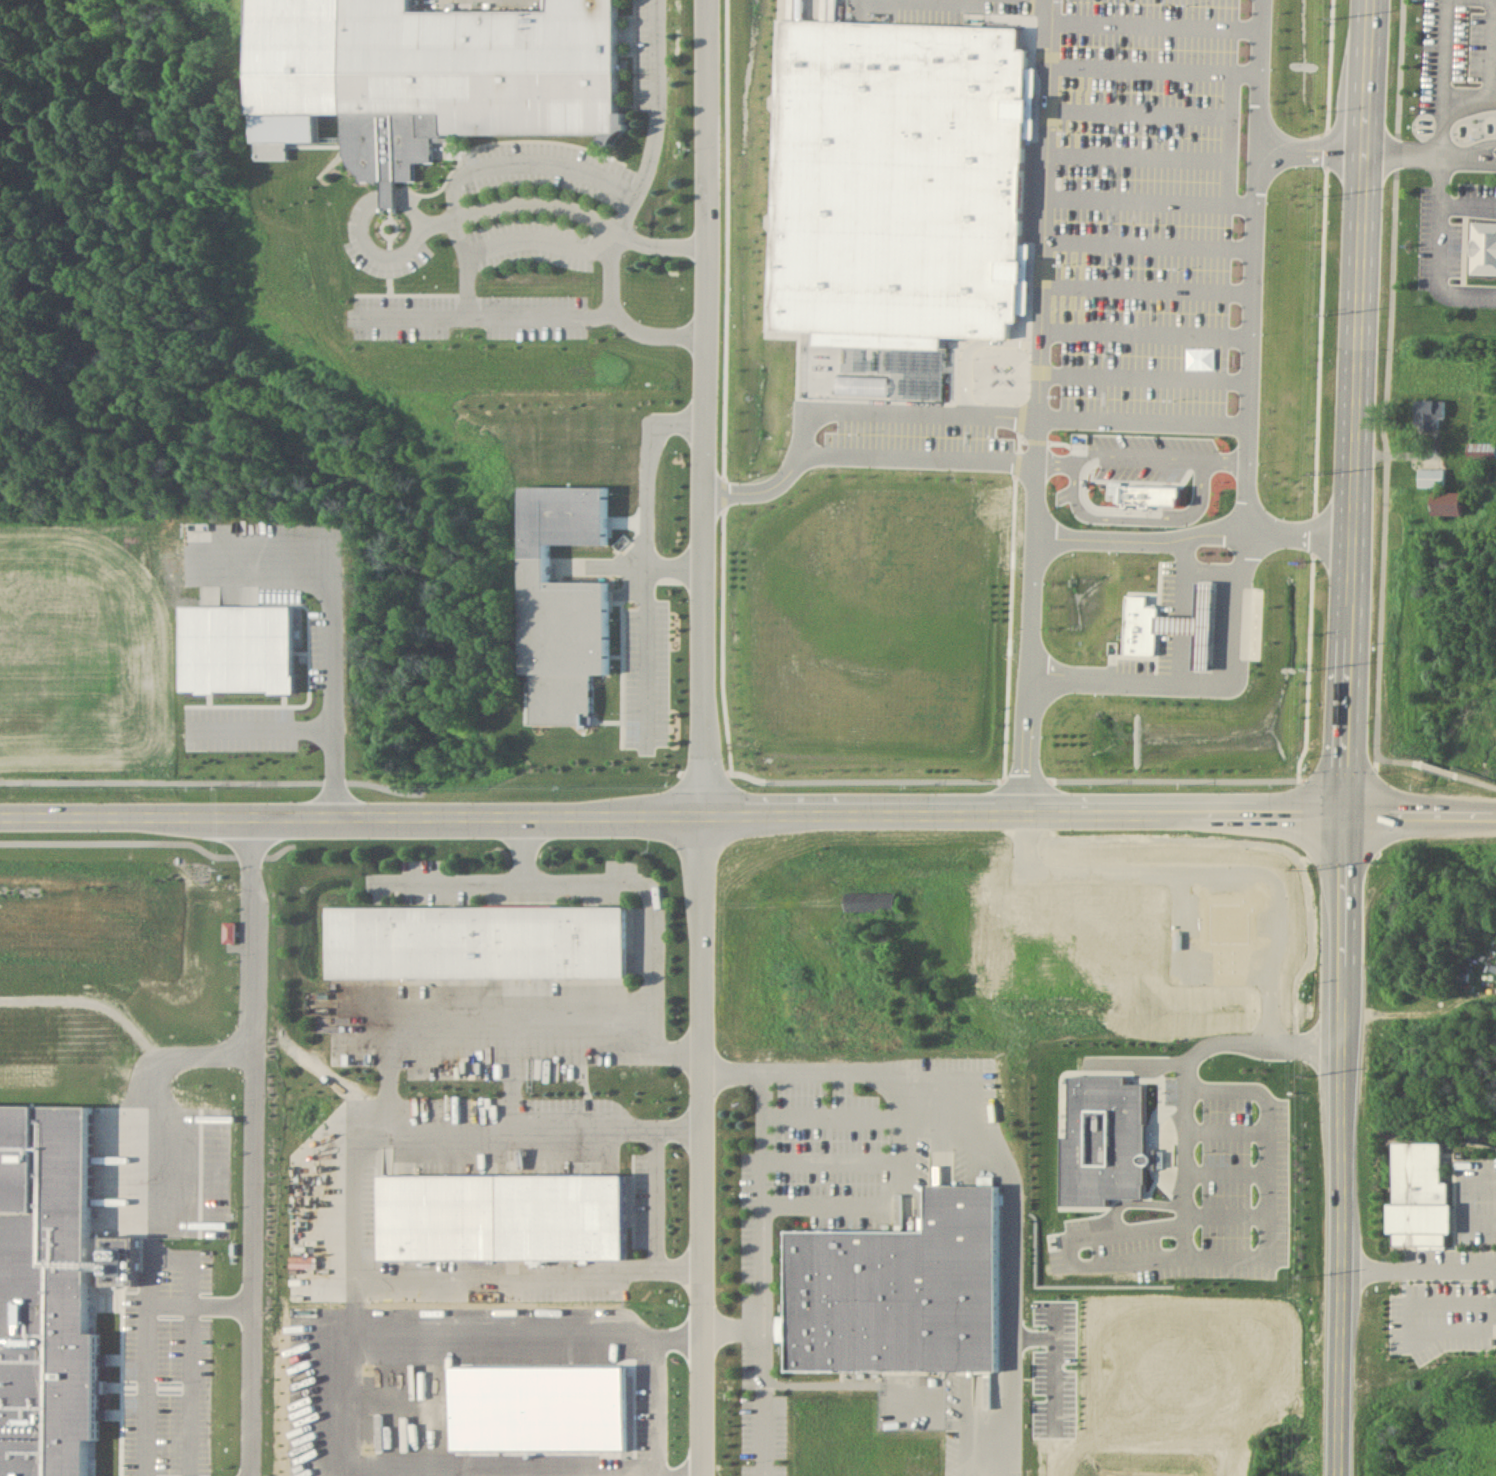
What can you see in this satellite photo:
road: (1037, 0)
road: (1493, 0)
parking lot: (953, 9)
road: (1156, 31)
road: (1489, 51)
road: (1441, 56)
road: (1328, 65)
road: (1144, 75)
building: (470, 79)
road: (1249, 81)
road: (1467, 106)
road: (1142, 118)
road: (652, 120)
road: (1235, 123)
road: (1439, 133)
road: (1312, 147)
road: (1325, 148)
road: (1467, 150)
road: (1466, 161)
road: (1140, 162)
building: (895, 170)
road: (1233, 187)
road: (450, 192)
road: (387, 200)
road: (1151, 204)
road: (1466, 207)
road: (414, 211)
parking lot: (1150, 214)
road: (1436, 215)
parking lot: (1446, 227)
road: (617, 235)
road: (529, 238)
building: (1483, 248)
road: (1149, 249)
road: (384, 255)
road: (461, 264)
road: (1253, 265)
road: (1148, 293)
road: (533, 314)
road: (1146, 338)
road: (1319, 340)
road: (1145, 381)
road: (1386, 404)
road: (1040, 405)
building: (1428, 413)
road: (923, 418)
road: (1144, 426)
parking lot: (916, 435)
building: (1479, 451)
road: (922, 465)
building: (1429, 477)
road: (784, 488)
building: (1152, 500)
building: (1445, 503)
road: (1311, 534)
road: (1195, 535)
road: (646, 557)
road: (675, 566)
road: (1189, 575)
building: (1200, 622)
building: (1142, 626)
road: (334, 644)
road: (1187, 662)
road: (1306, 668)
road: (1218, 694)
building: (592, 711)
road: (266, 728)
road: (705, 737)
road: (1349, 737)
road: (1435, 767)
road: (1334, 773)
traffic signals: (1346, 809)
road: (747, 812)
road: (524, 849)
road: (617, 883)
building: (868, 901)
building: (473, 942)
road: (97, 1003)
road: (496, 1020)
road: (164, 1102)
road: (261, 1147)
road: (999, 1157)
building: (1418, 1197)
road: (658, 1203)
road: (358, 1207)
road: (1190, 1252)
road: (1418, 1269)
road: (759, 1273)
building: (900, 1285)
road: (356, 1299)
road: (156, 1300)
road: (175, 1313)
road: (732, 1328)
road: (347, 1390)
road: (197, 1394)

